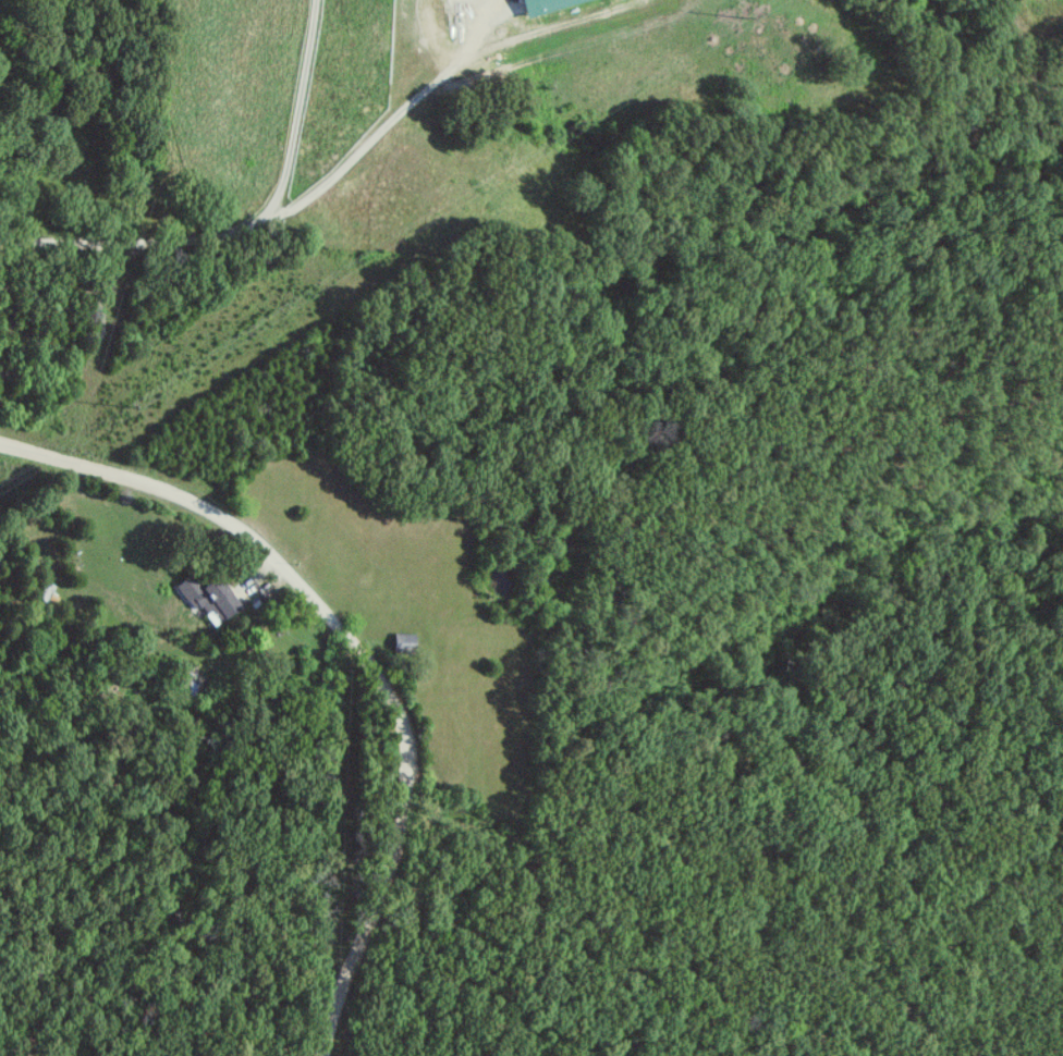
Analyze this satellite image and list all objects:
road: (242, 224)
building: (210, 600)
building: (404, 642)
road: (361, 650)

